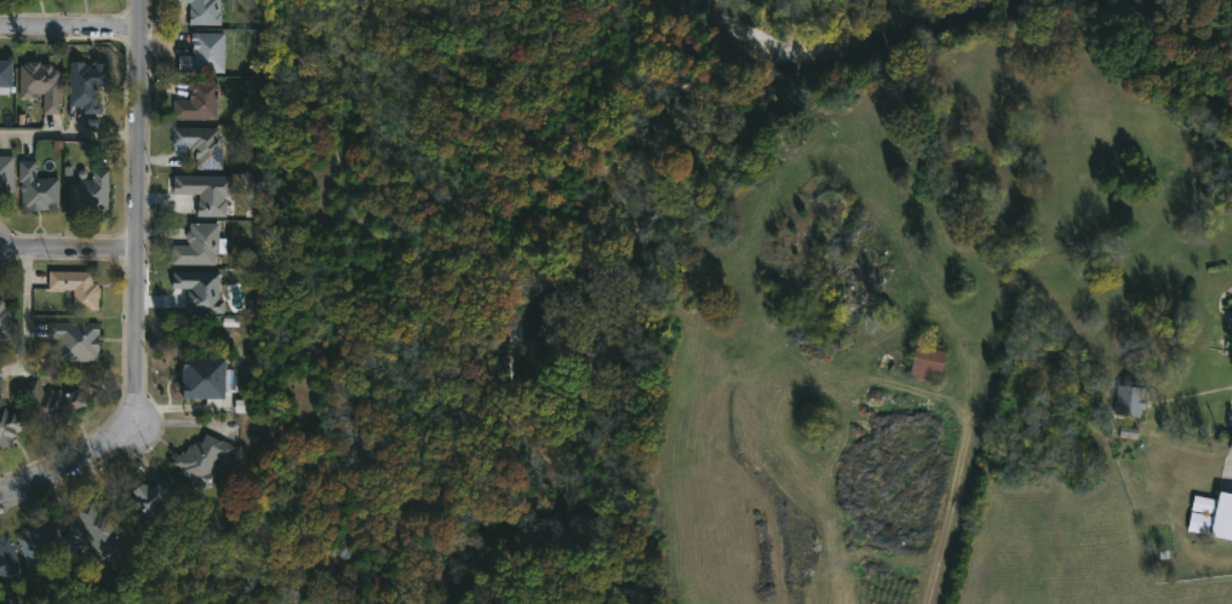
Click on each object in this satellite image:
building: (201, 11)
park: (832, 11)
road: (68, 35)
building: (201, 53)
building: (4, 73)
building: (85, 80)
building: (40, 82)
building: (196, 102)
road: (68, 131)
building: (199, 143)
building: (5, 172)
building: (35, 186)
building: (88, 190)
building: (204, 191)
road: (136, 223)
building: (195, 247)
road: (67, 253)
building: (75, 286)
building: (199, 292)
road: (24, 317)
building: (2, 318)
building: (73, 341)
building: (924, 361)
building: (202, 378)
building: (51, 401)
building: (1129, 401)
building: (10, 422)
building: (201, 456)
road: (57, 468)
road: (957, 479)
building: (149, 497)
building: (1210, 513)
building: (99, 529)
building: (41, 542)
building: (7, 559)

